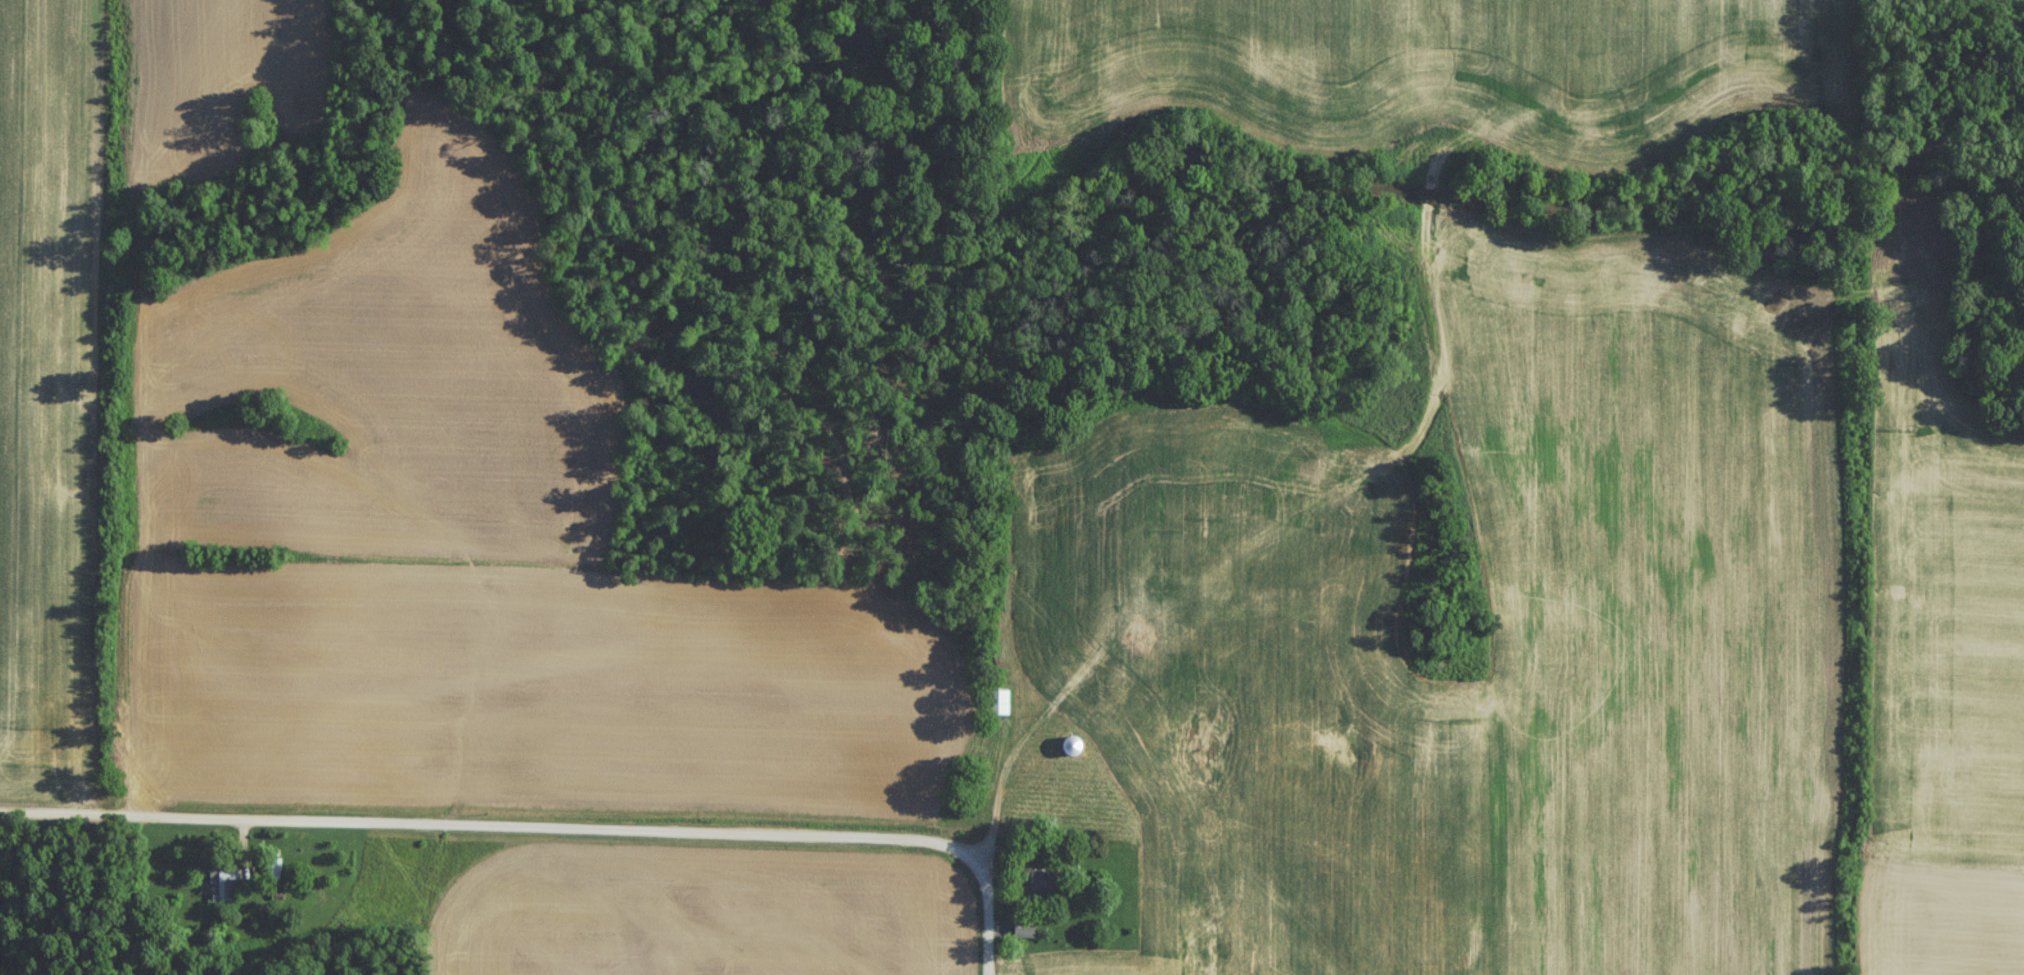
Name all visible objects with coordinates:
building: (997, 707)
building: (1071, 751)
road: (1002, 776)
road: (517, 826)
building: (1038, 887)
building: (221, 890)
building: (1022, 934)
road: (991, 947)

